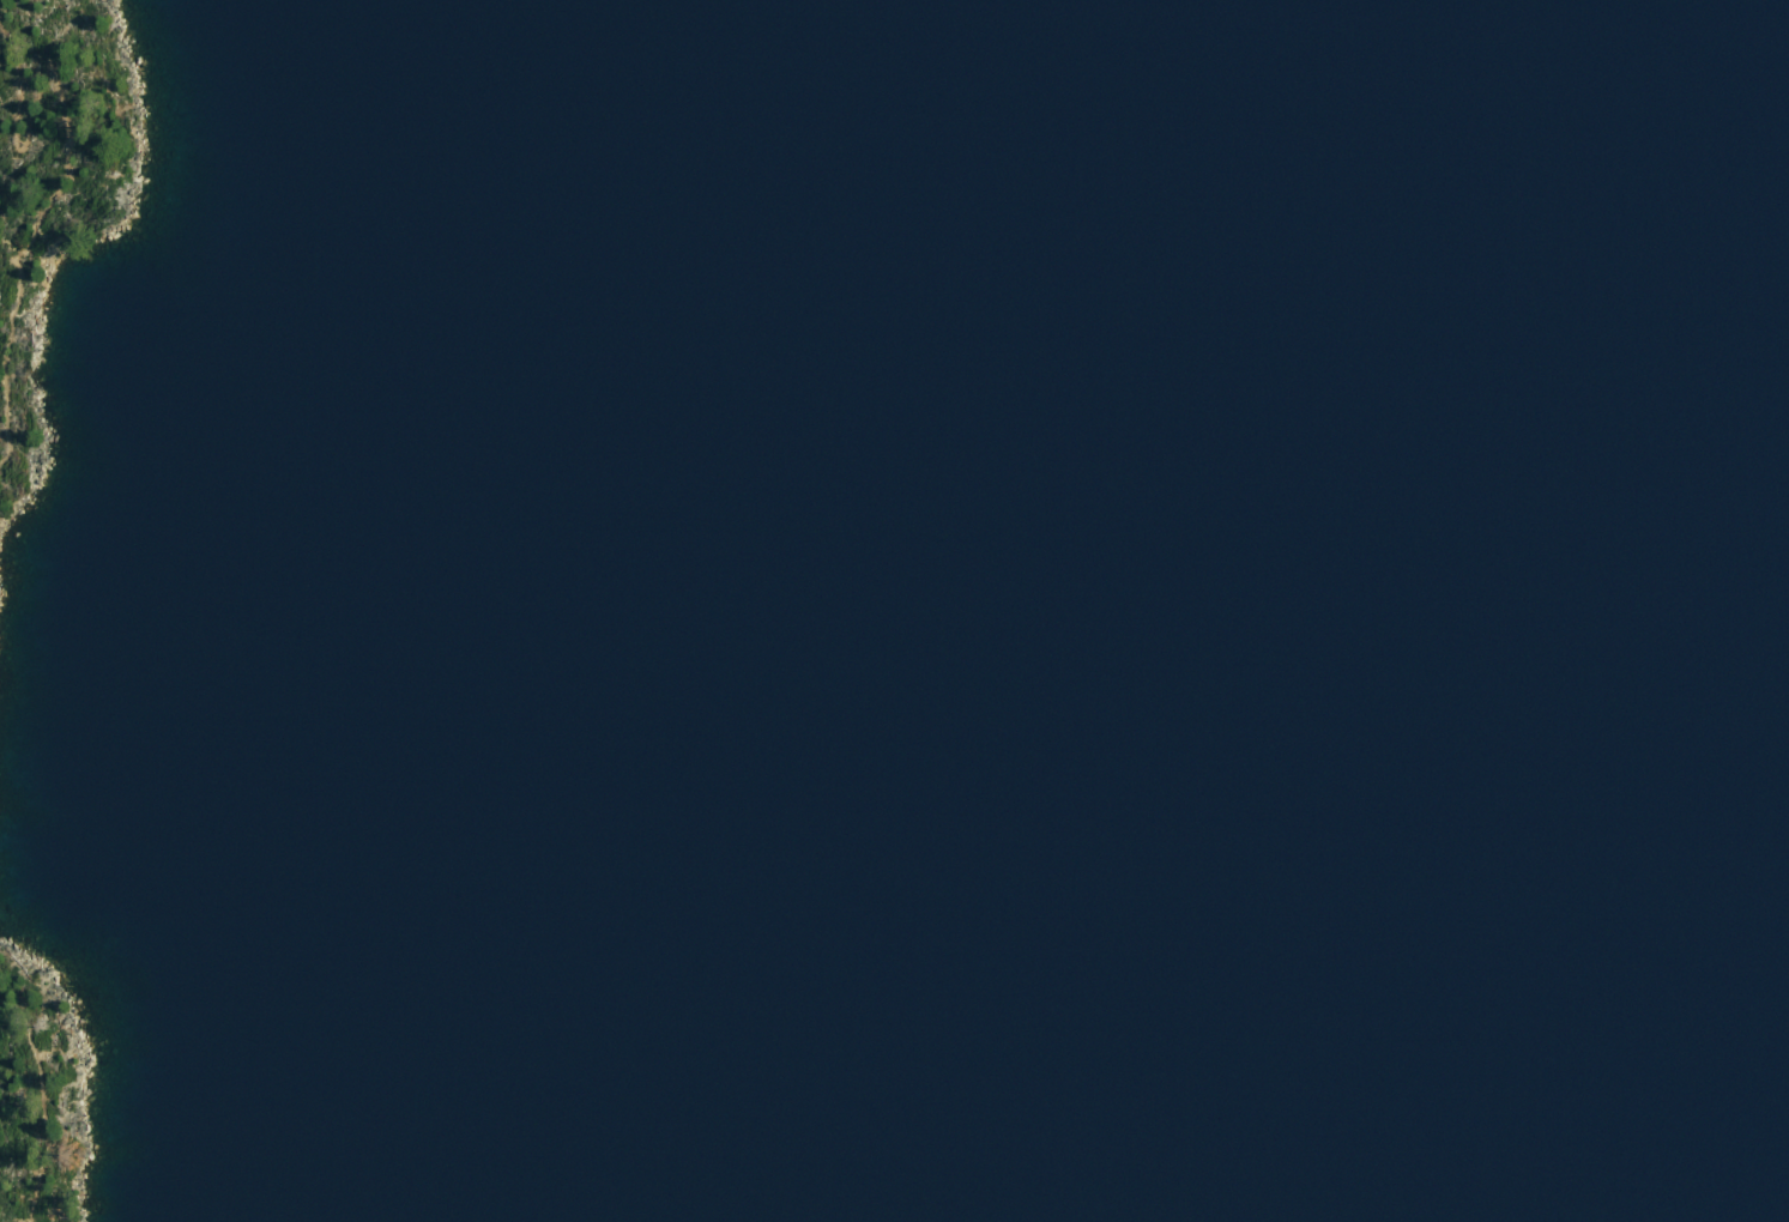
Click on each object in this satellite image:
road: (25, 246)
road: (34, 1106)

